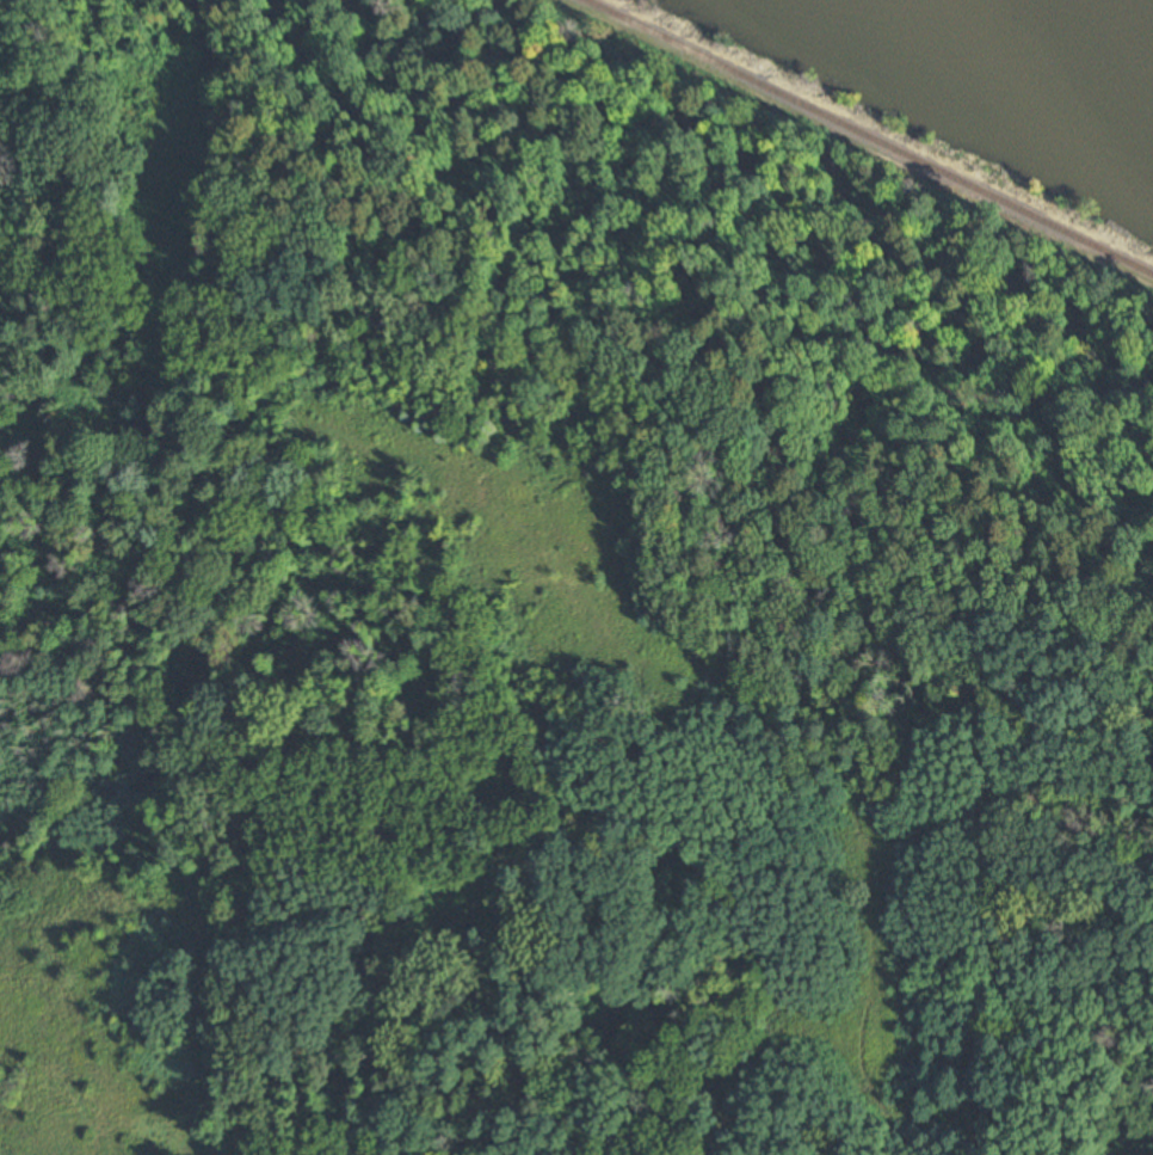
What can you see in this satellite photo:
railway: (869, 136)

